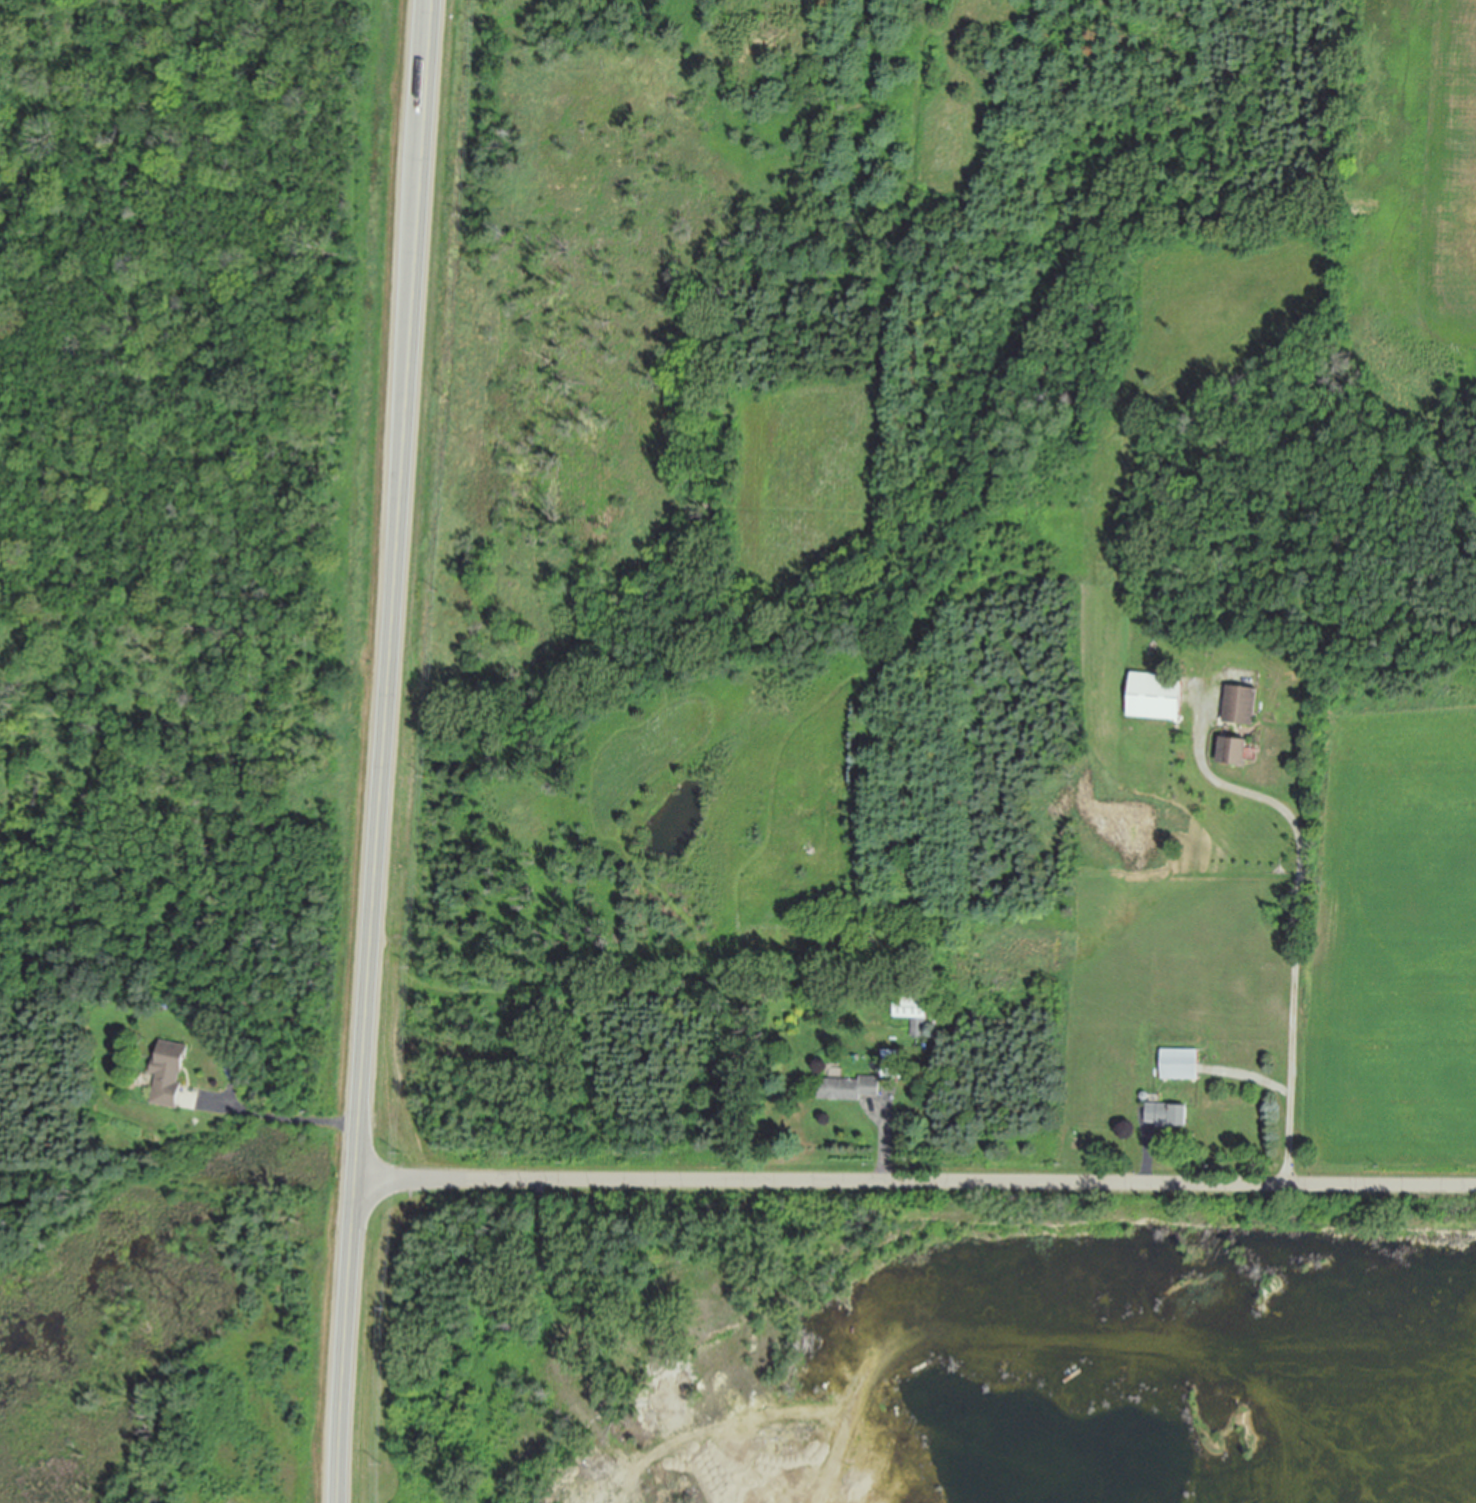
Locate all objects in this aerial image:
building: (1156, 694)
building: (1241, 703)
building: (1233, 748)
road: (386, 751)
building: (813, 919)
road: (1299, 924)
building: (915, 1012)
building: (79, 1018)
building: (893, 1063)
building: (1181, 1063)
building: (170, 1073)
building: (850, 1087)
building: (1168, 1113)
road: (279, 1116)
road: (917, 1182)

